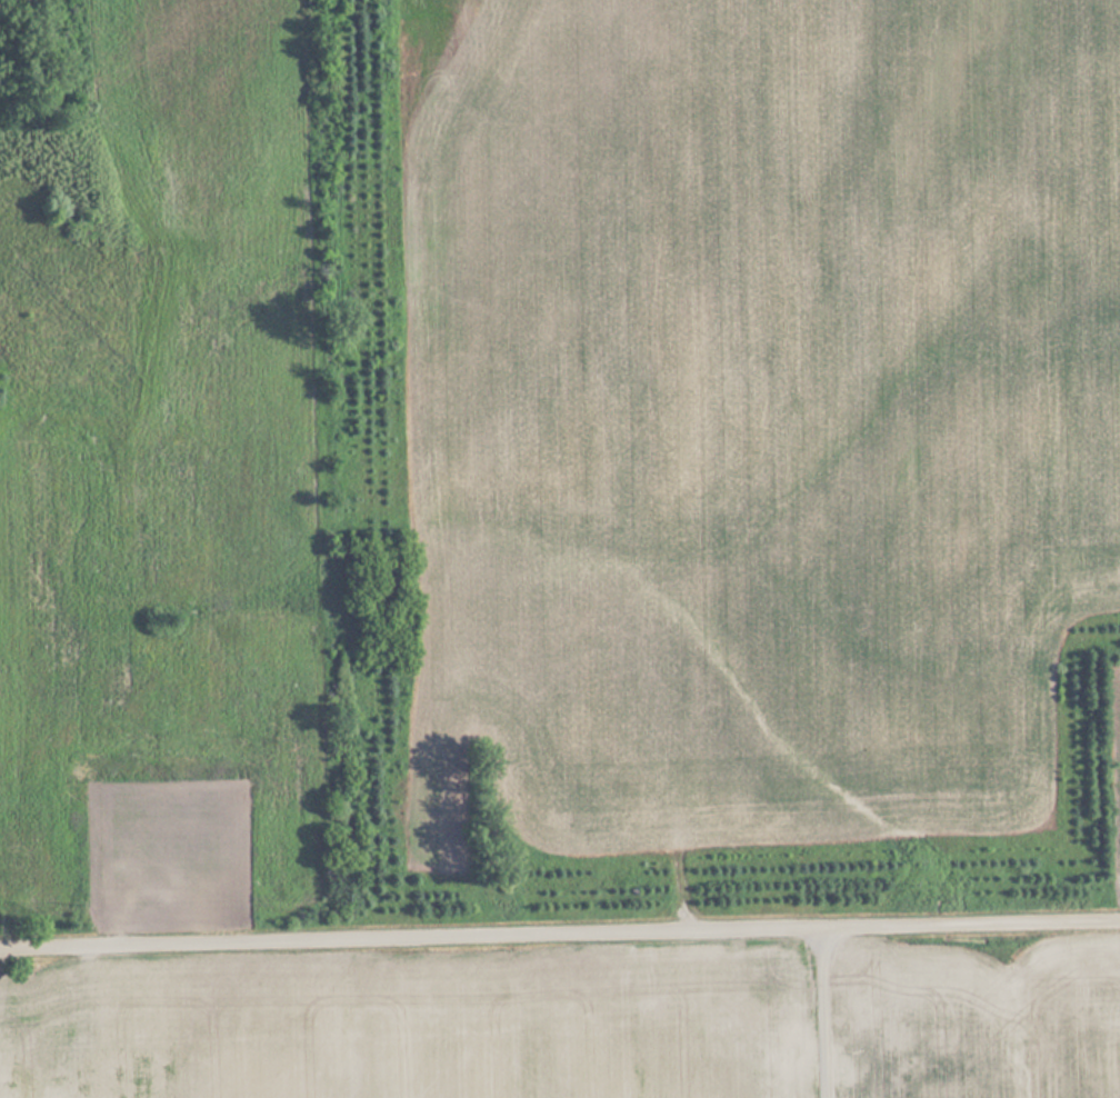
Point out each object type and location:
building: (137, 834)
building: (151, 877)
road: (560, 936)
building: (889, 1001)
building: (834, 1028)

